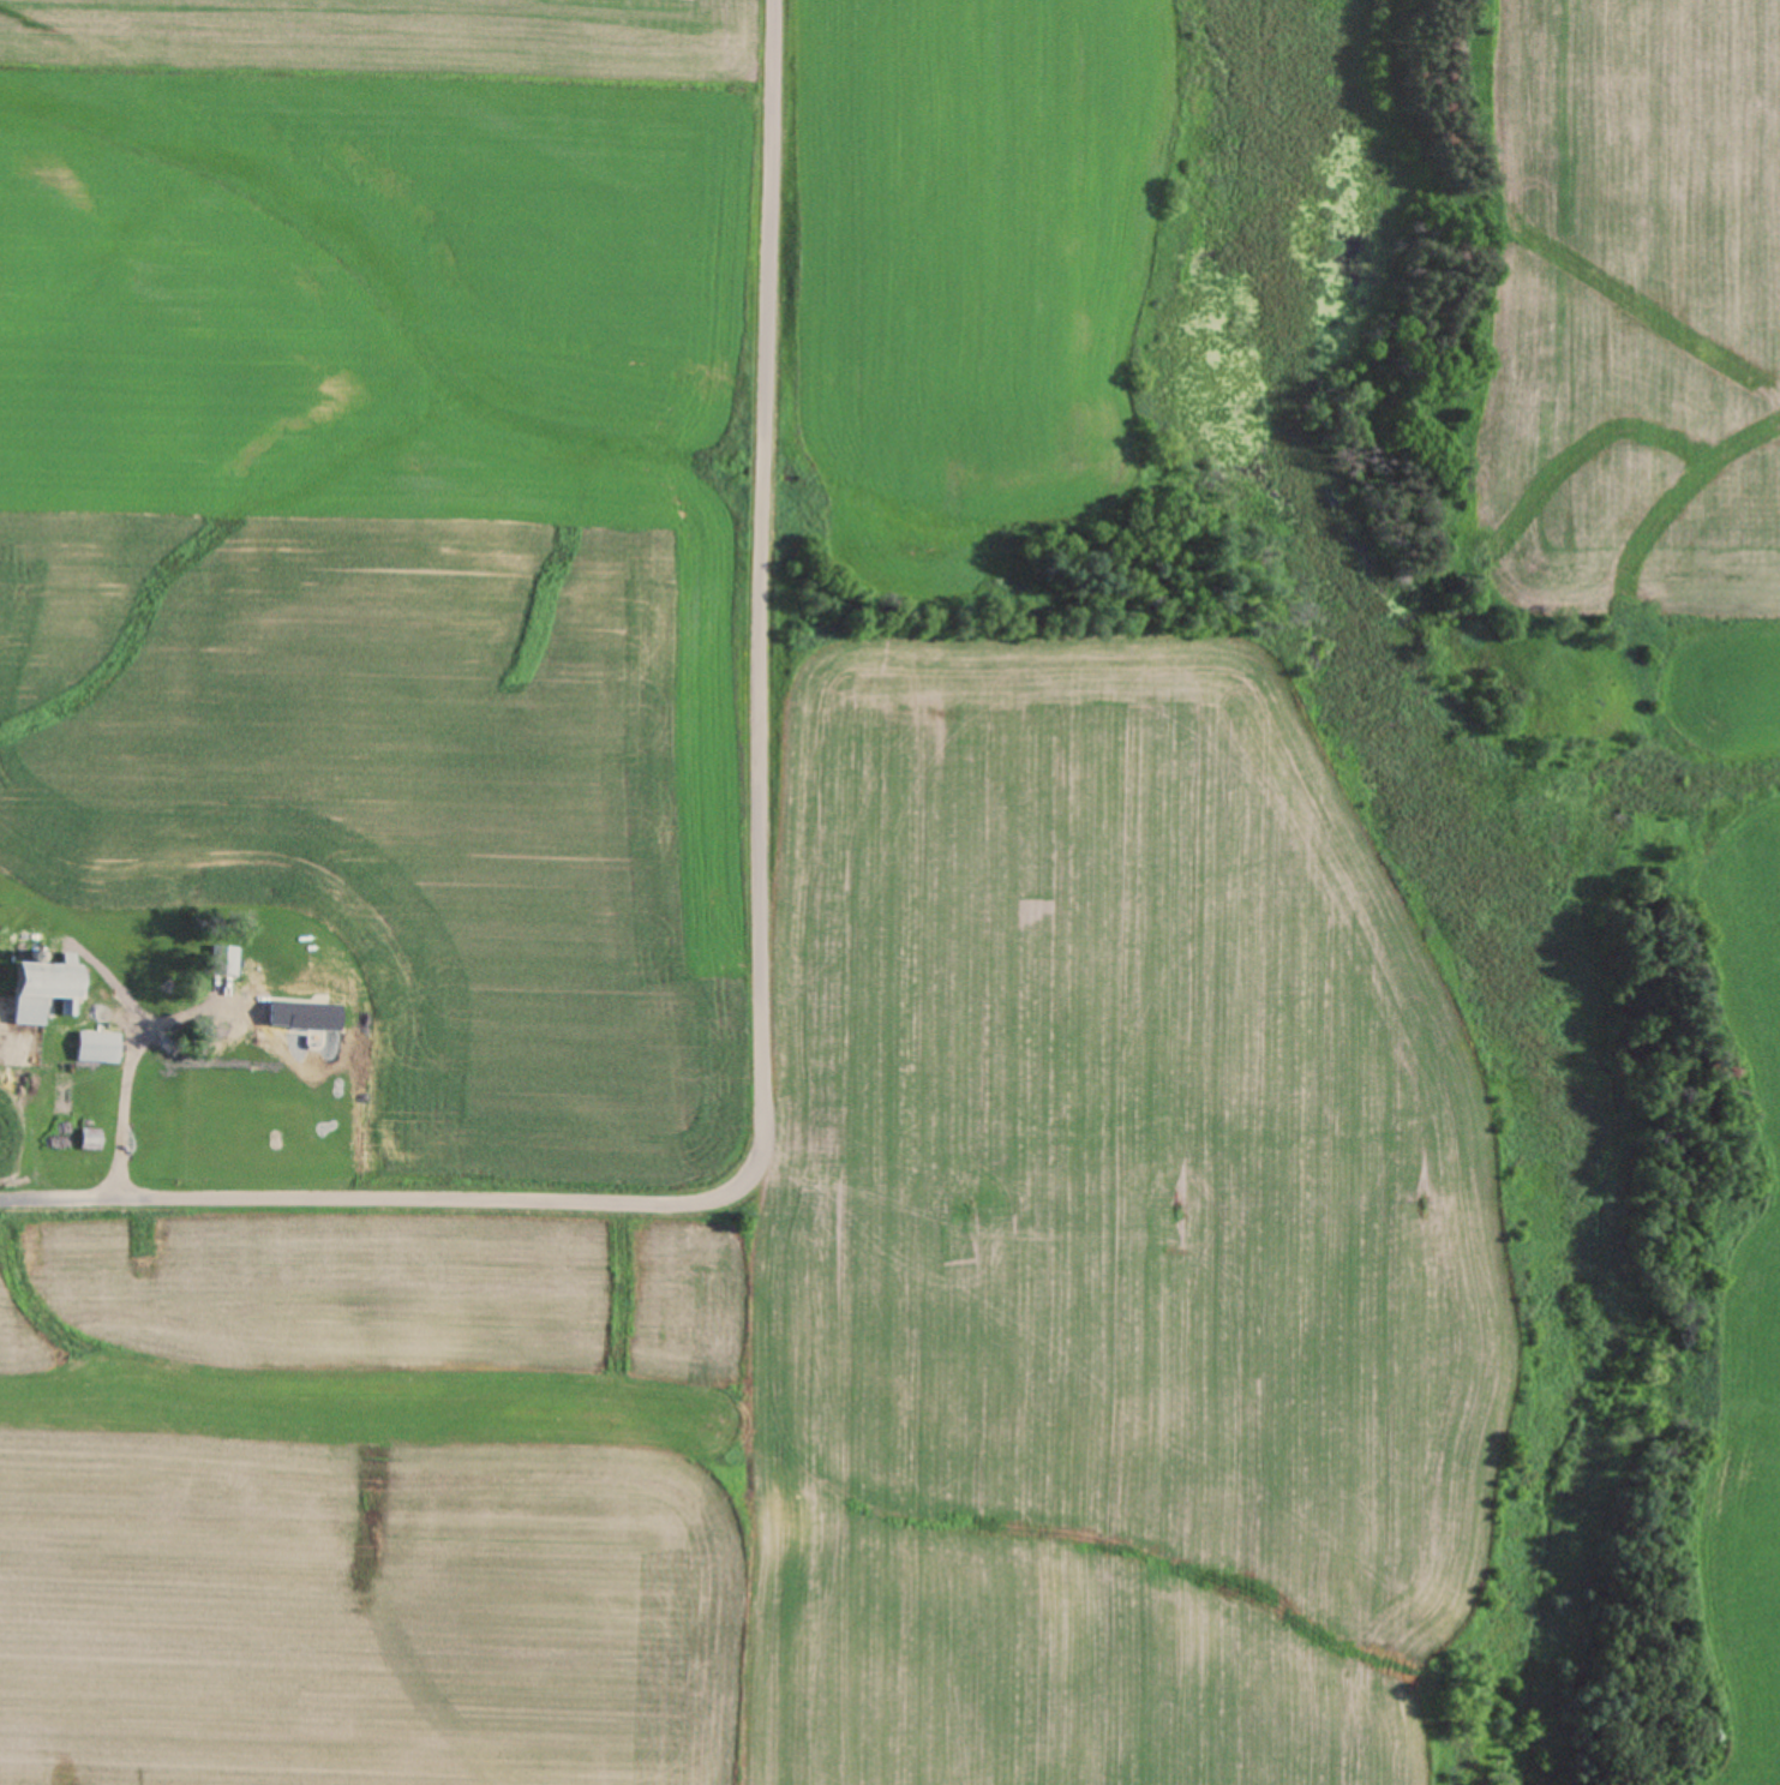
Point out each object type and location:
road: (756, 965)
building: (247, 975)
building: (48, 988)
building: (101, 1049)
road: (125, 1067)
building: (92, 1142)

